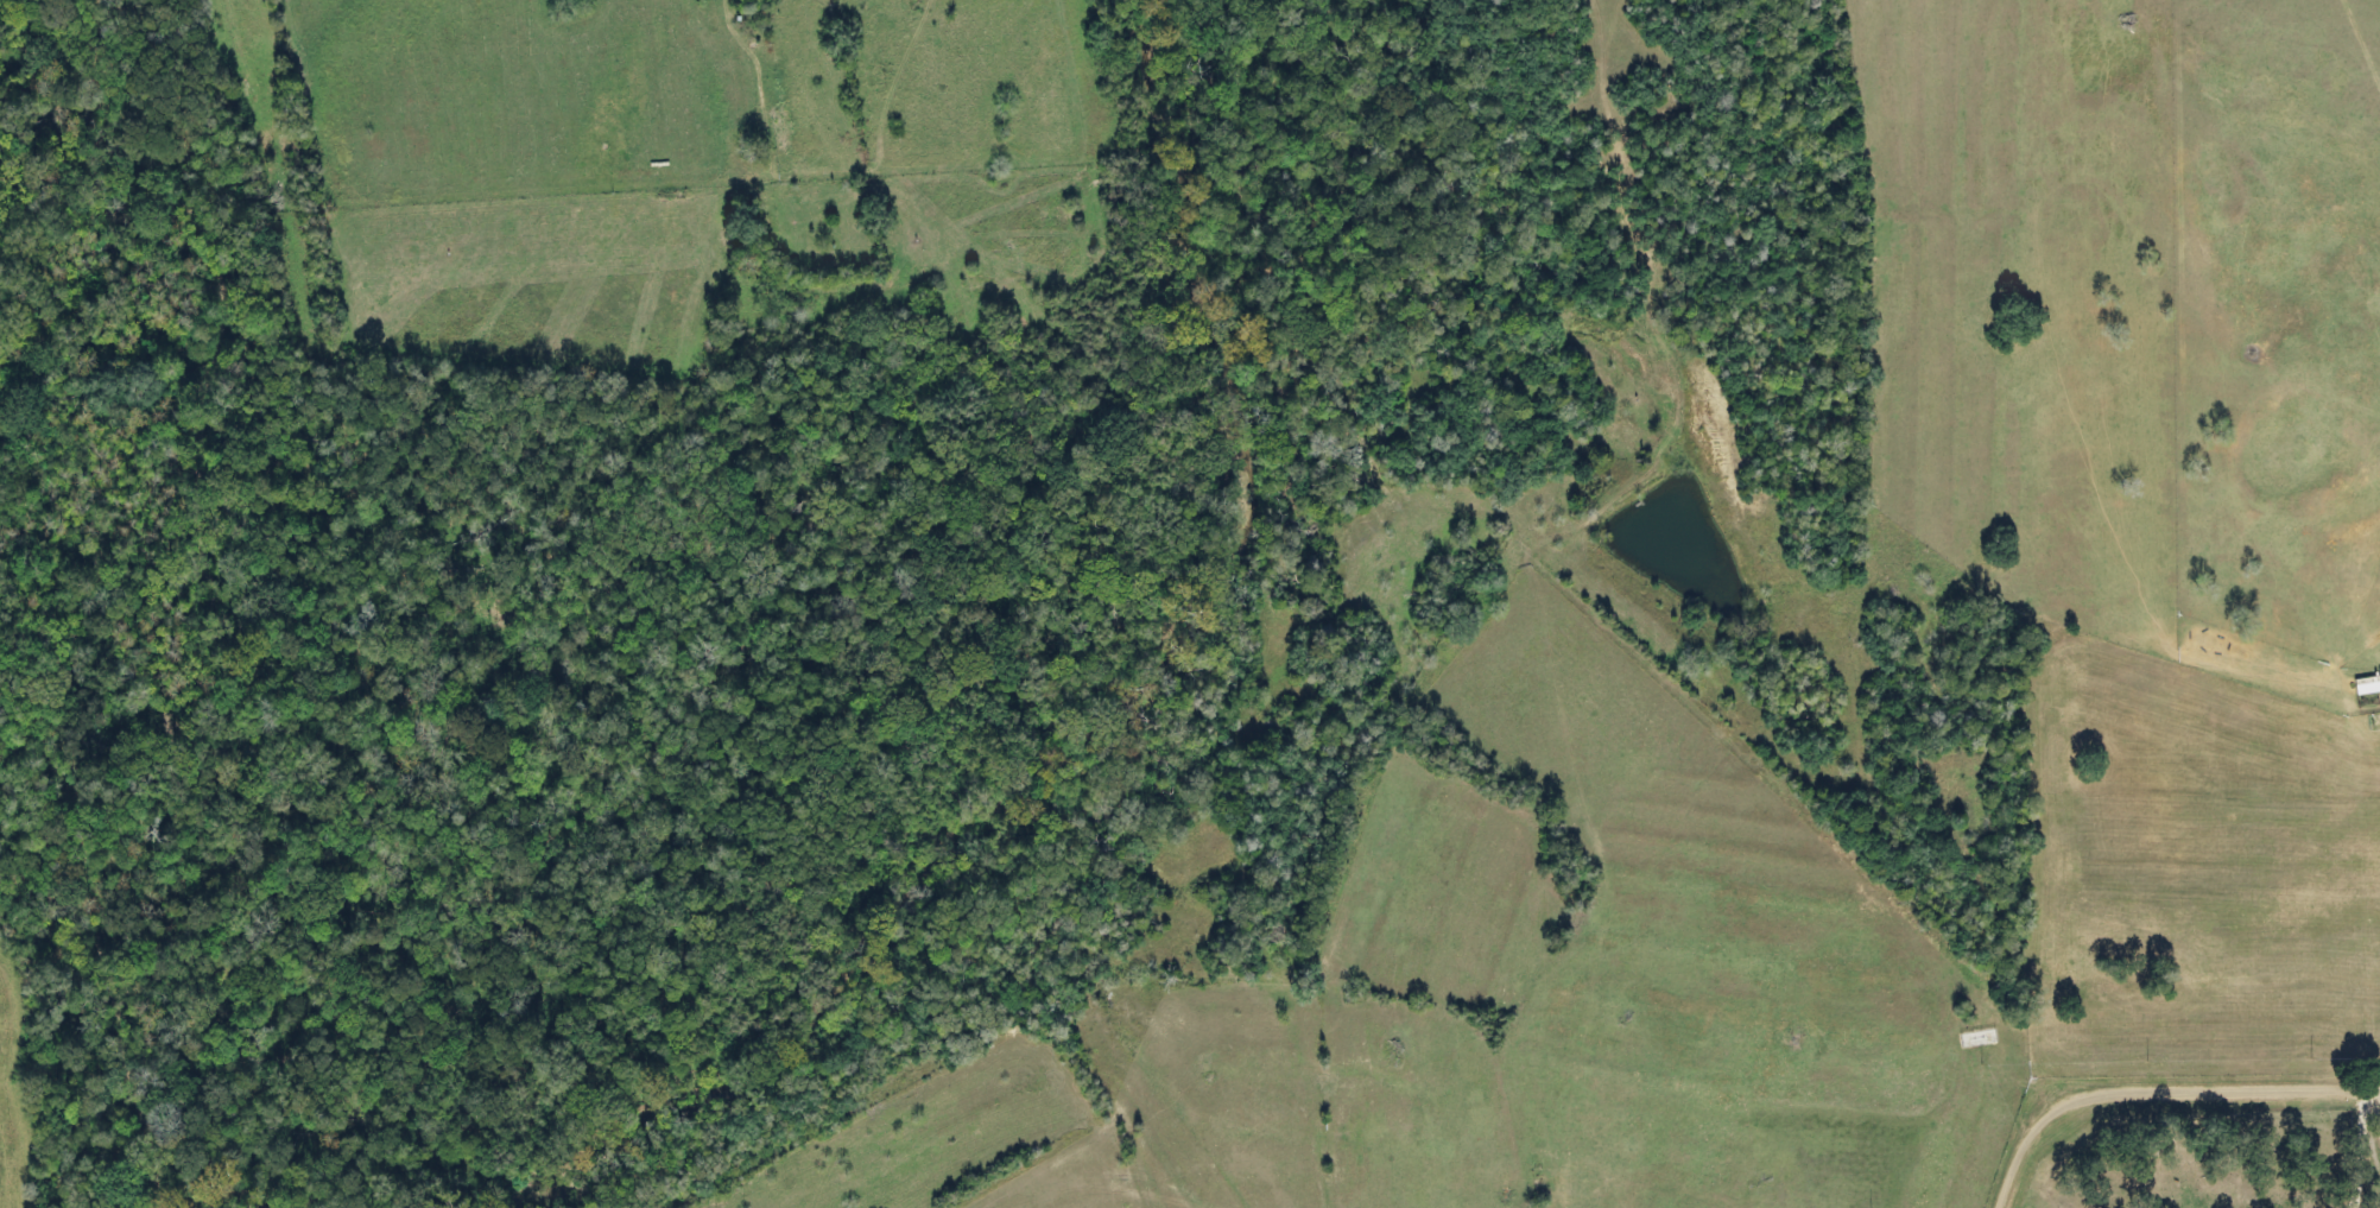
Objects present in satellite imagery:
building: (2367, 684)
road: (2157, 1092)

